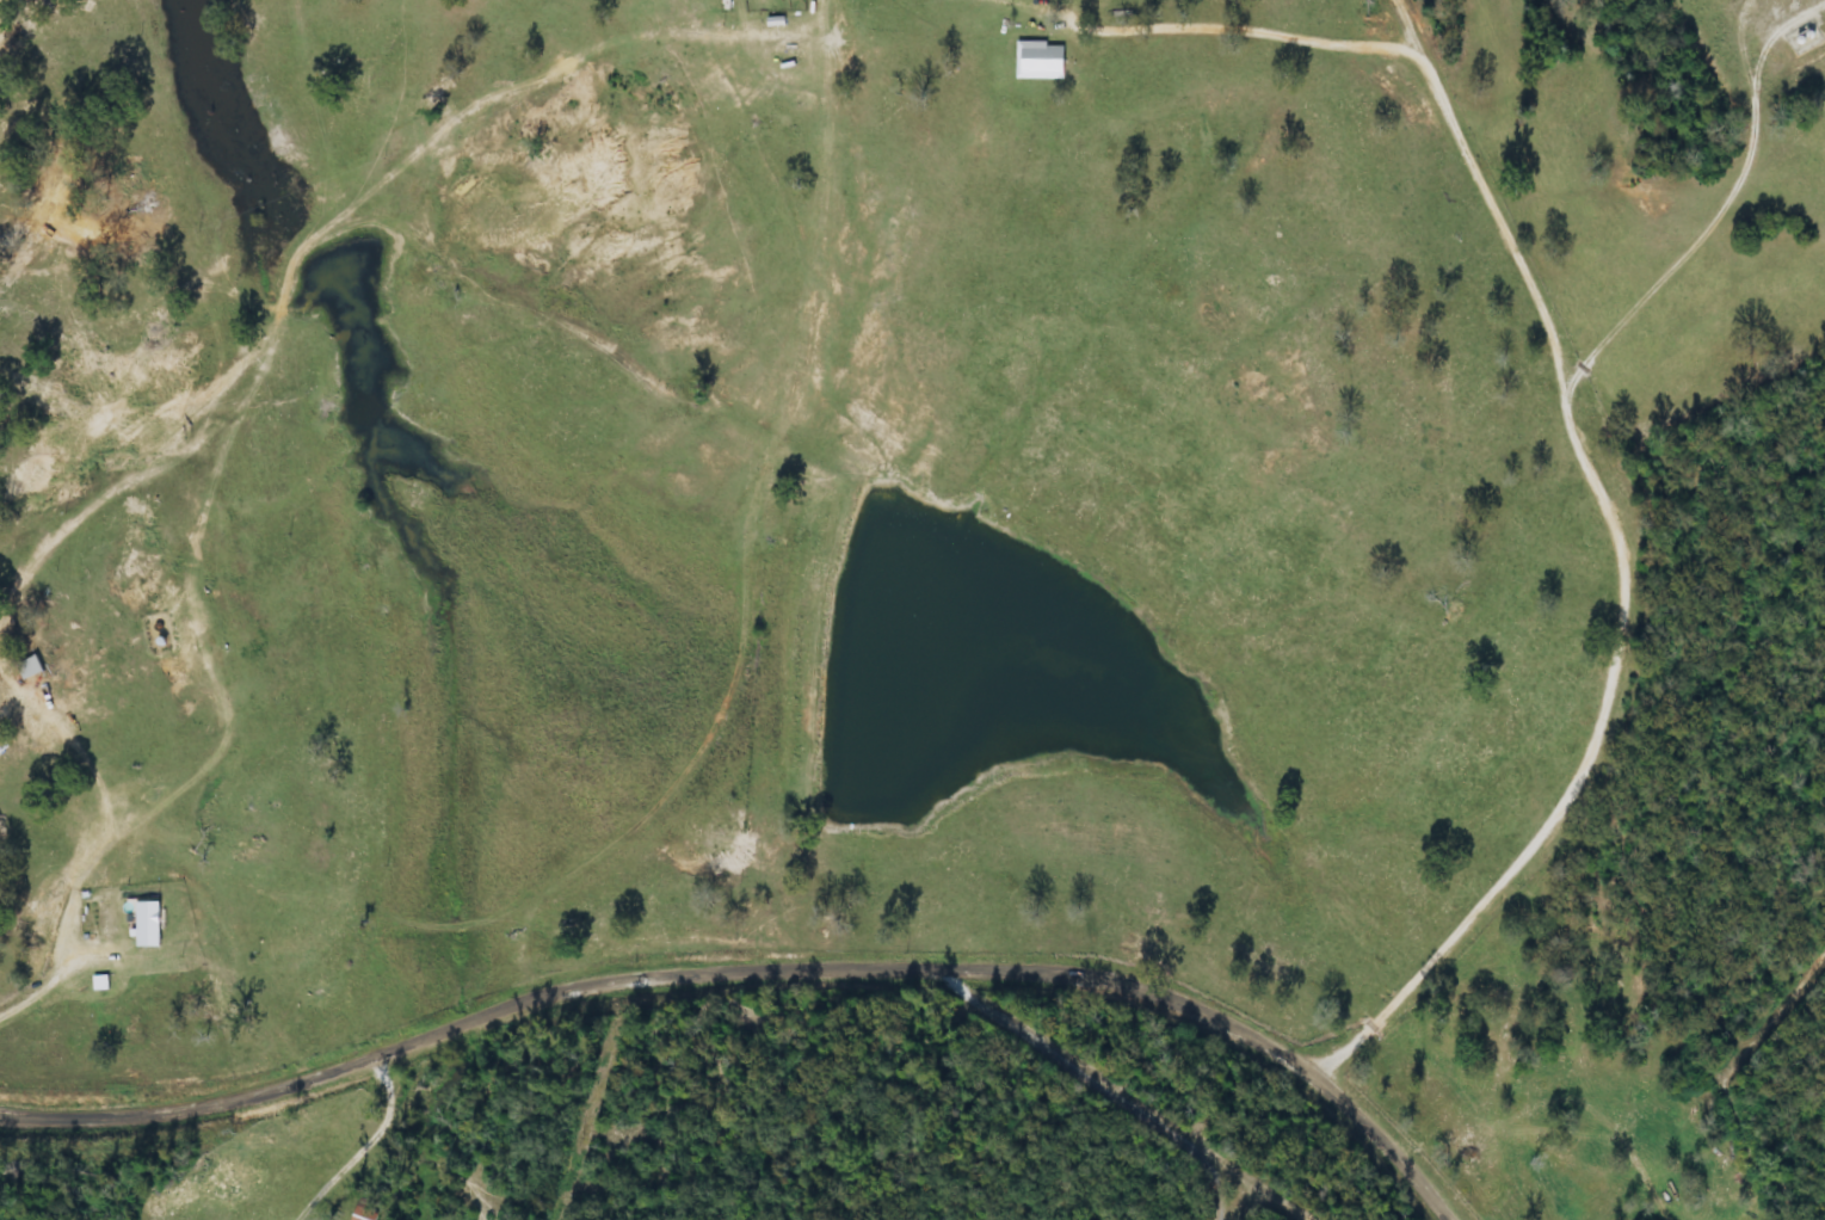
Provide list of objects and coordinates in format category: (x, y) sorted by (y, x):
building: (1040, 61)
road: (1614, 600)
building: (29, 668)
road: (550, 874)
building: (147, 925)
road: (740, 1011)
building: (365, 1212)

